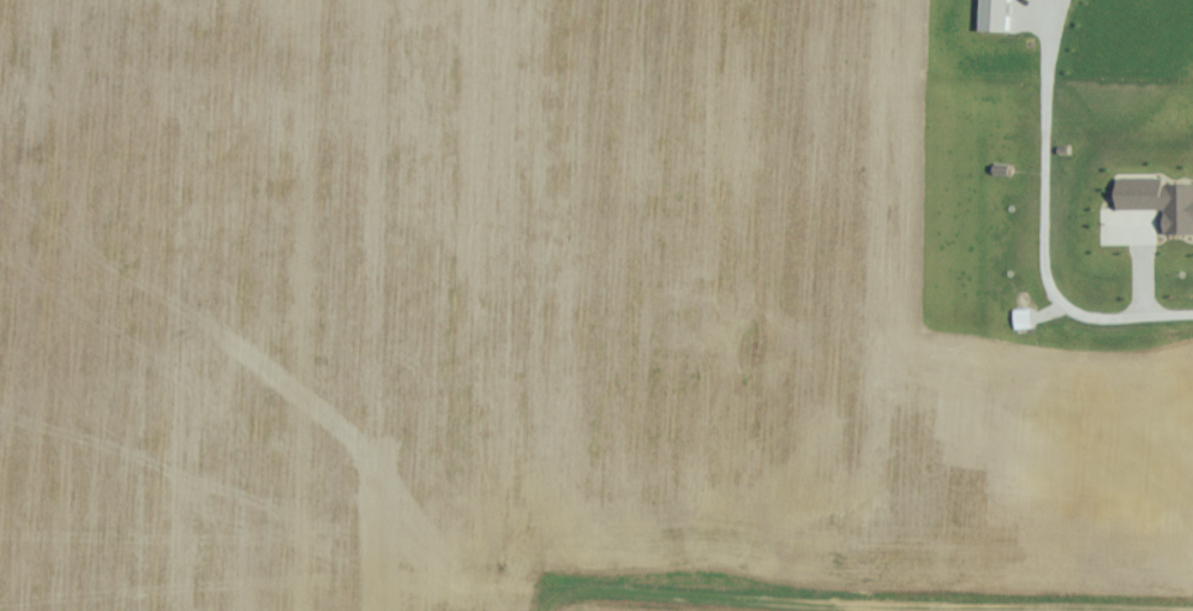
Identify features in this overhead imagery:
building: (999, 14)
building: (1151, 204)
road: (1042, 228)

